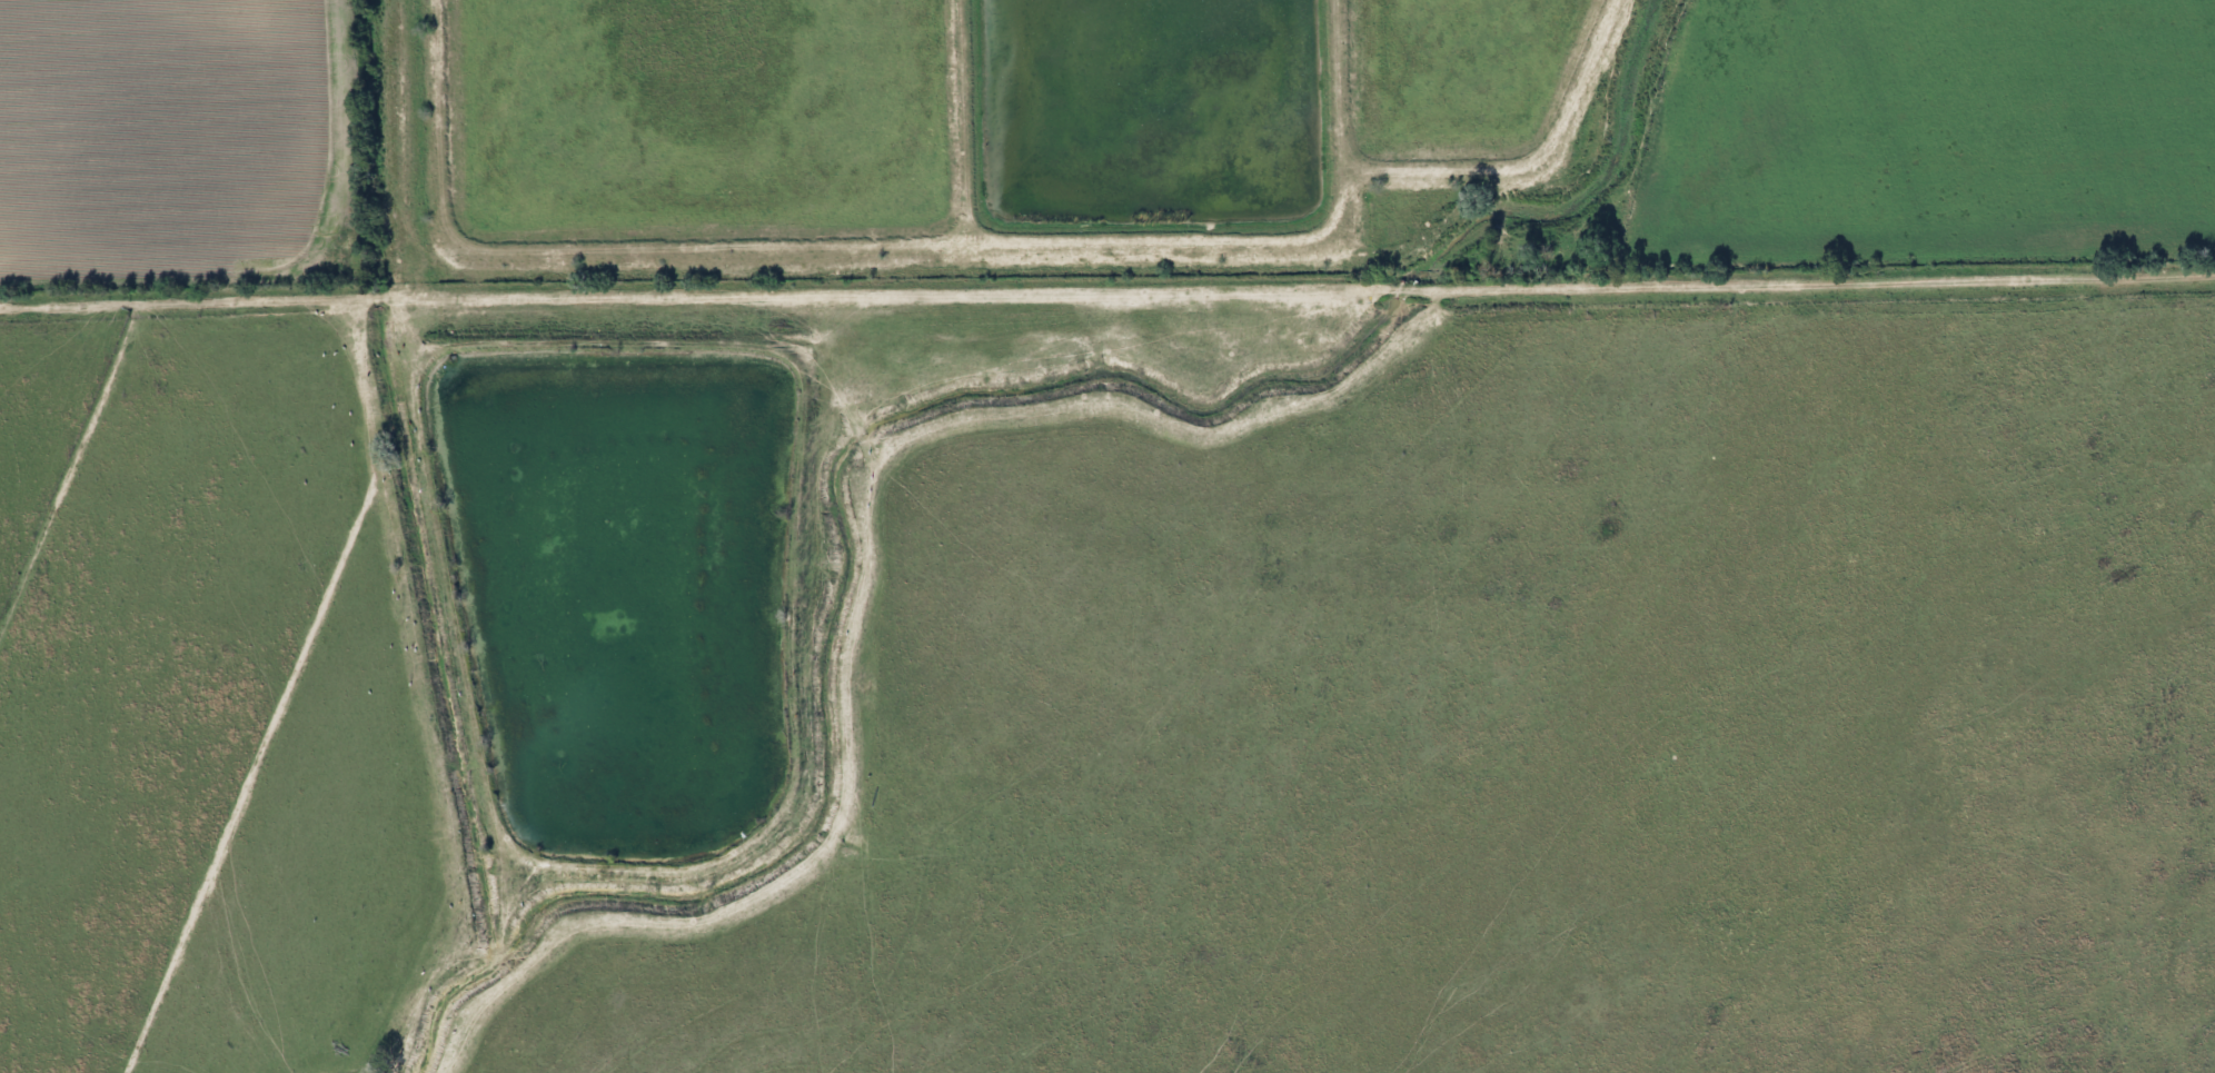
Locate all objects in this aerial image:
road: (1136, 291)

